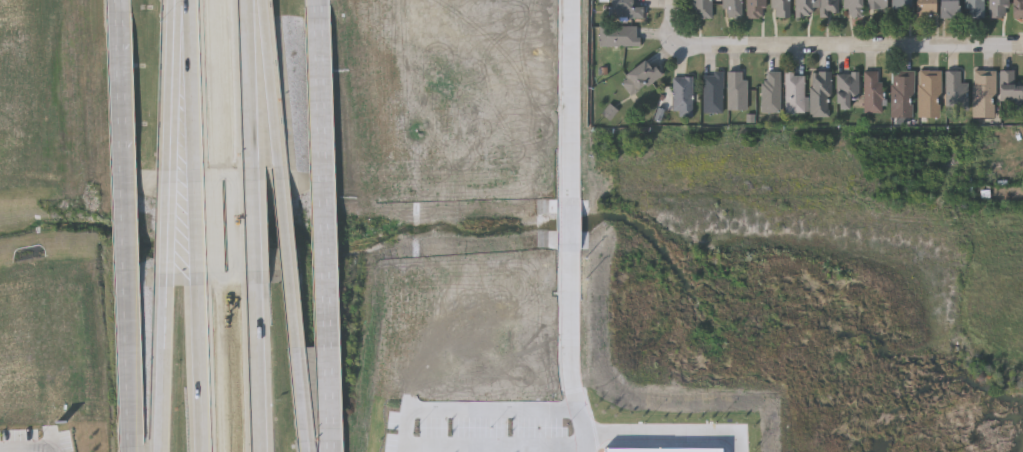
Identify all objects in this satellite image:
building: (874, 4)
building: (900, 4)
road: (120, 6)
building: (828, 7)
building: (997, 7)
road: (318, 8)
building: (624, 8)
building: (731, 8)
building: (755, 8)
building: (780, 8)
building: (803, 8)
building: (852, 8)
building: (924, 8)
building: (948, 8)
building: (973, 8)
building: (1017, 8)
building: (701, 9)
road: (676, 14)
road: (19, 16)
building: (618, 35)
road: (846, 45)
road: (16, 52)
building: (638, 76)
road: (270, 85)
road: (172, 87)
road: (189, 87)
road: (26, 88)
road: (250, 88)
building: (845, 88)
building: (735, 89)
building: (1009, 89)
building: (770, 91)
building: (794, 91)
building: (871, 91)
building: (955, 91)
building: (681, 92)
building: (712, 92)
building: (819, 93)
building: (901, 93)
building: (928, 93)
building: (983, 93)
road: (129, 222)
road: (325, 222)
road: (253, 223)
road: (164, 225)
road: (195, 225)
road: (570, 226)
road: (292, 300)
road: (257, 361)
road: (160, 363)
road: (199, 363)
road: (474, 407)
road: (671, 433)
road: (332, 439)
road: (306, 440)
road: (132, 442)
road: (494, 445)
road: (26, 448)

